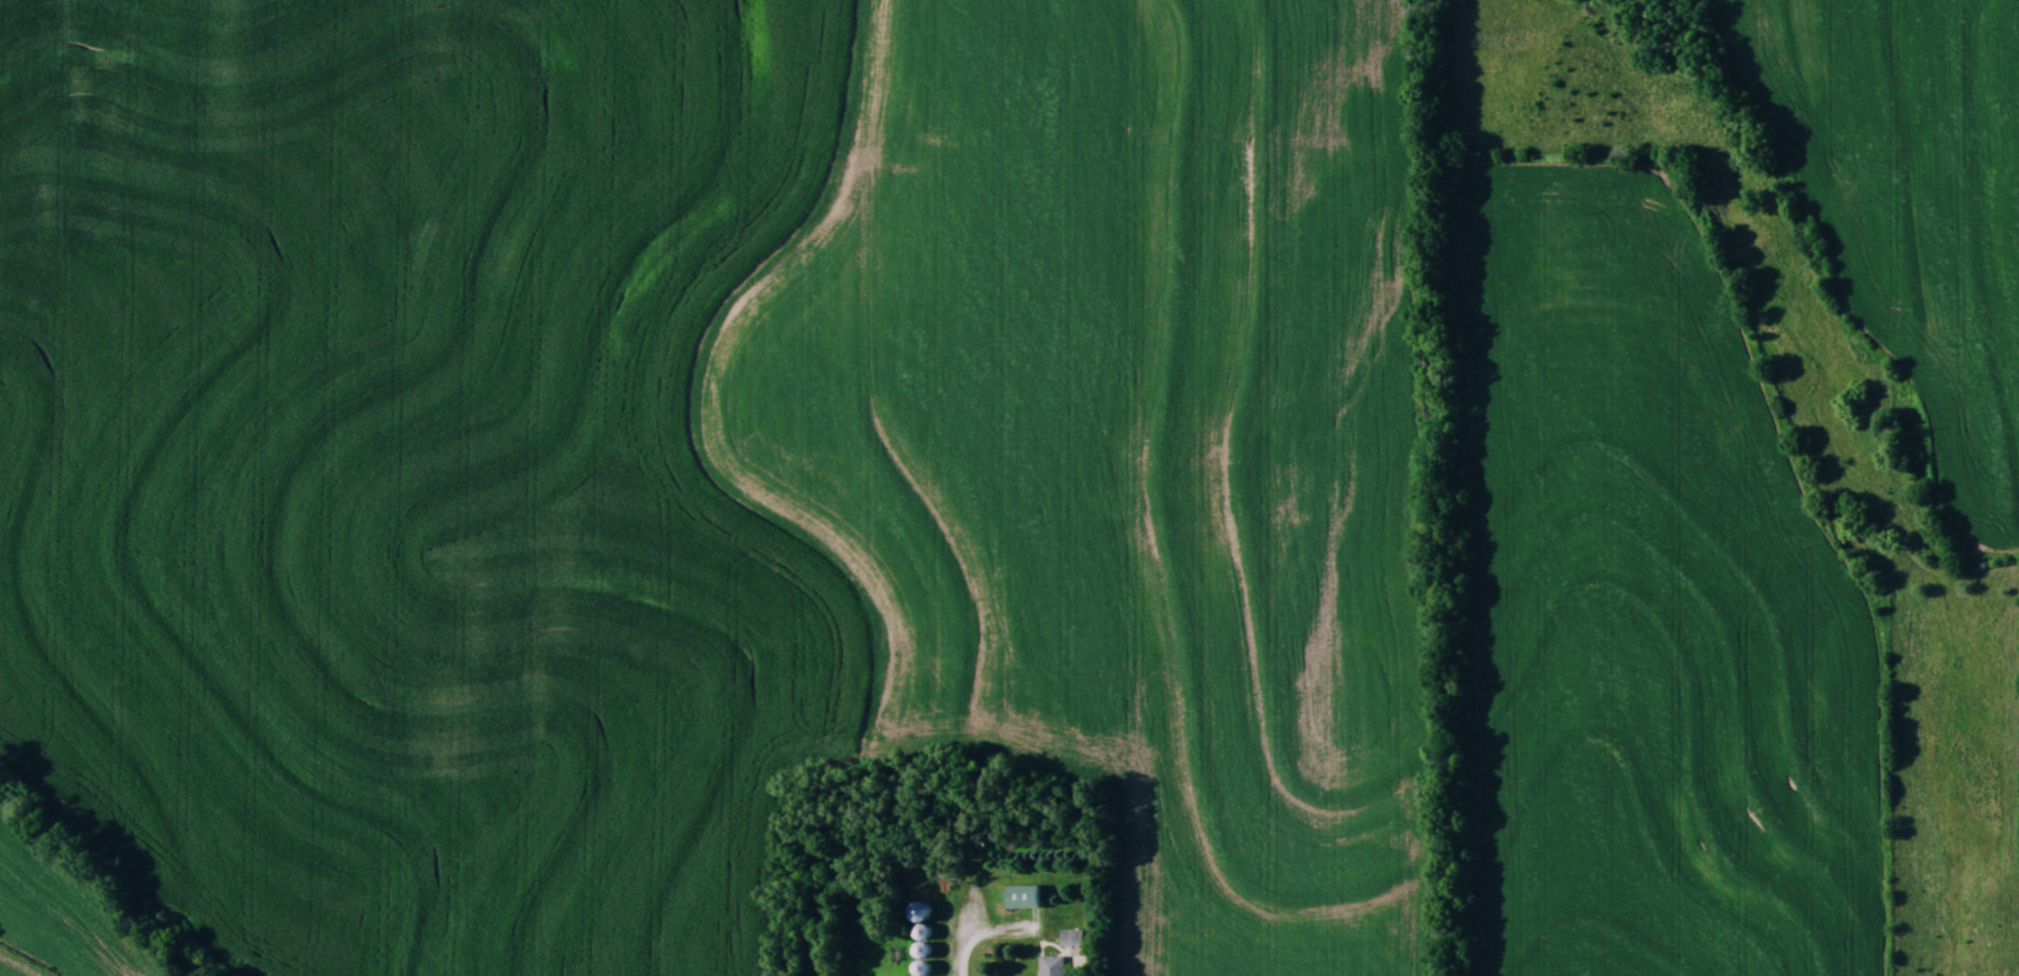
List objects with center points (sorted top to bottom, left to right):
building: (1019, 894)
building: (916, 918)
building: (1070, 936)
road: (989, 937)
building: (918, 948)
building: (1050, 964)
building: (918, 966)

